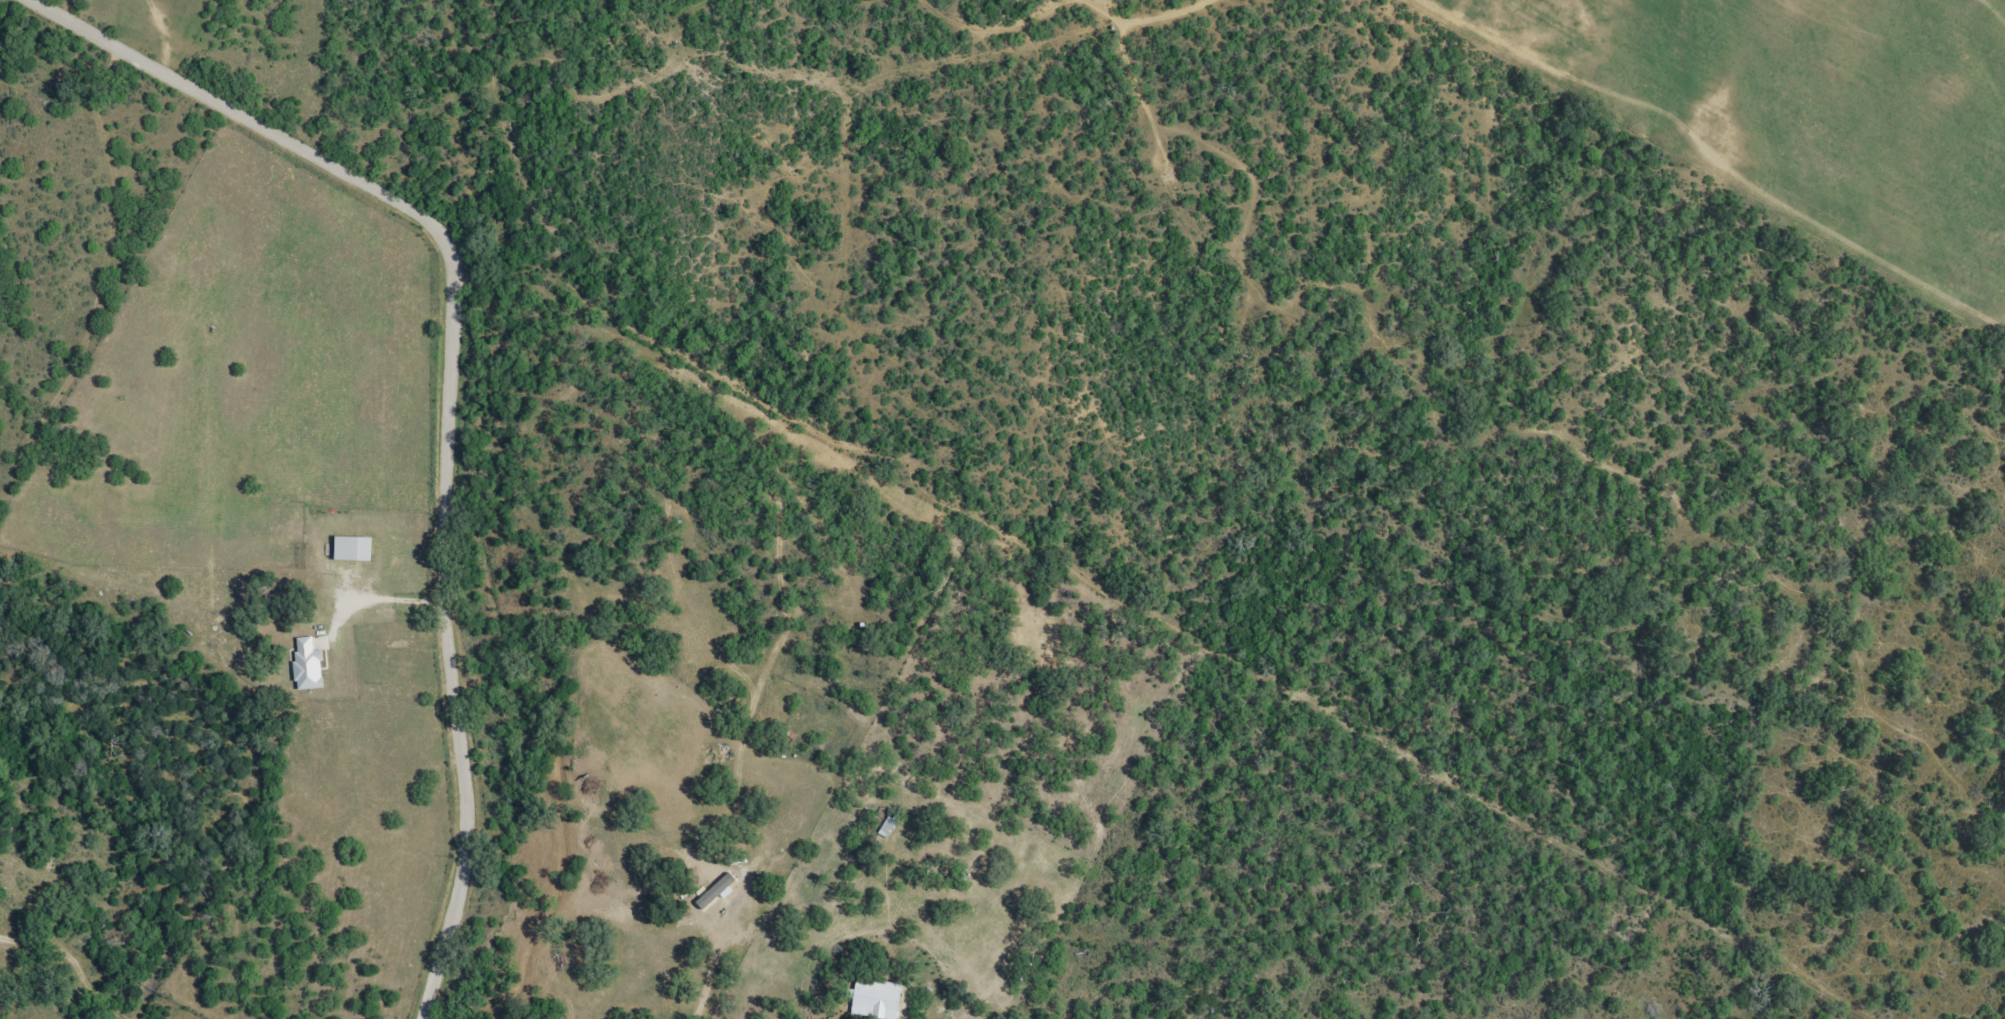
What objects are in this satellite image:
road: (75, 115)
road: (438, 396)
building: (303, 642)
building: (886, 821)
building: (714, 874)
road: (712, 980)
building: (876, 1003)

